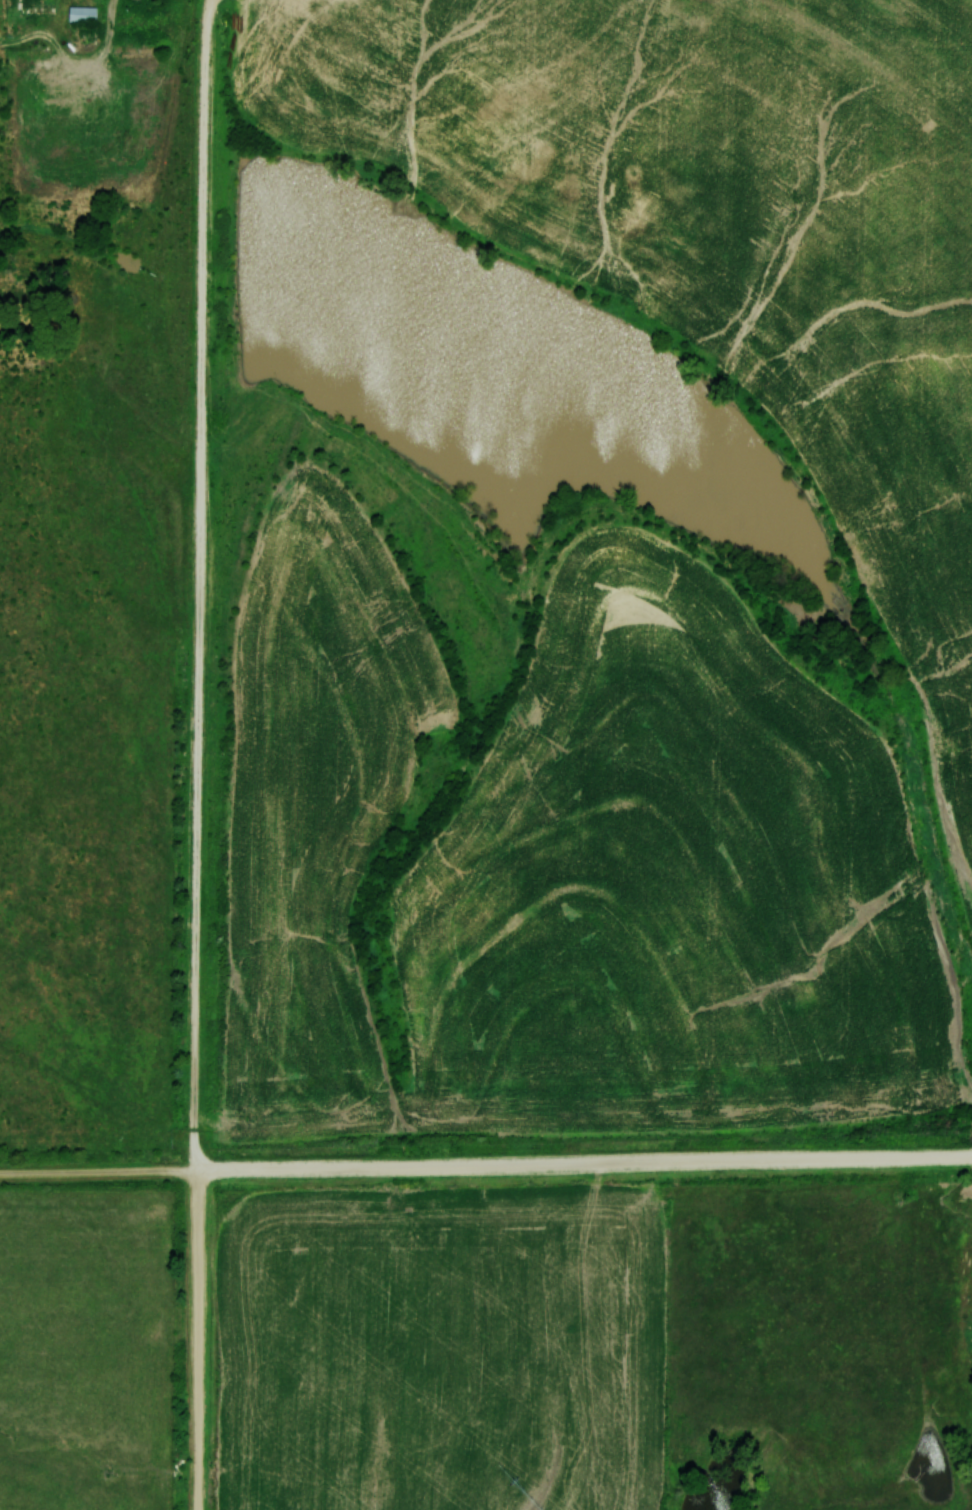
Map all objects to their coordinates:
building: (81, 14)
road: (202, 585)
road: (486, 1165)
road: (201, 1340)

